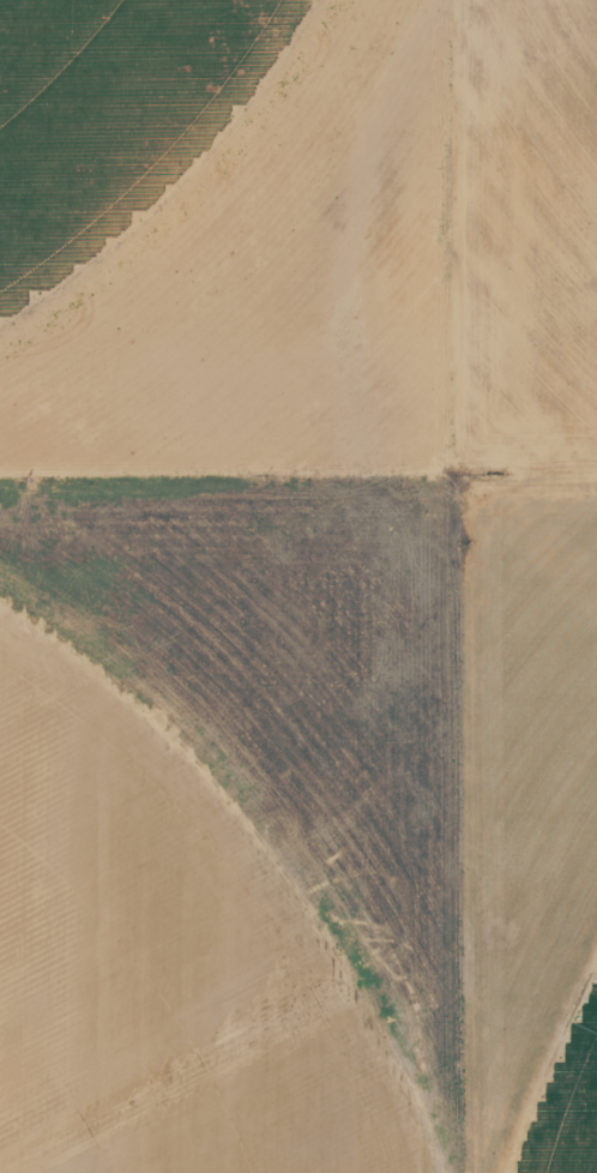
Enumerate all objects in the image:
road: (298, 504)

